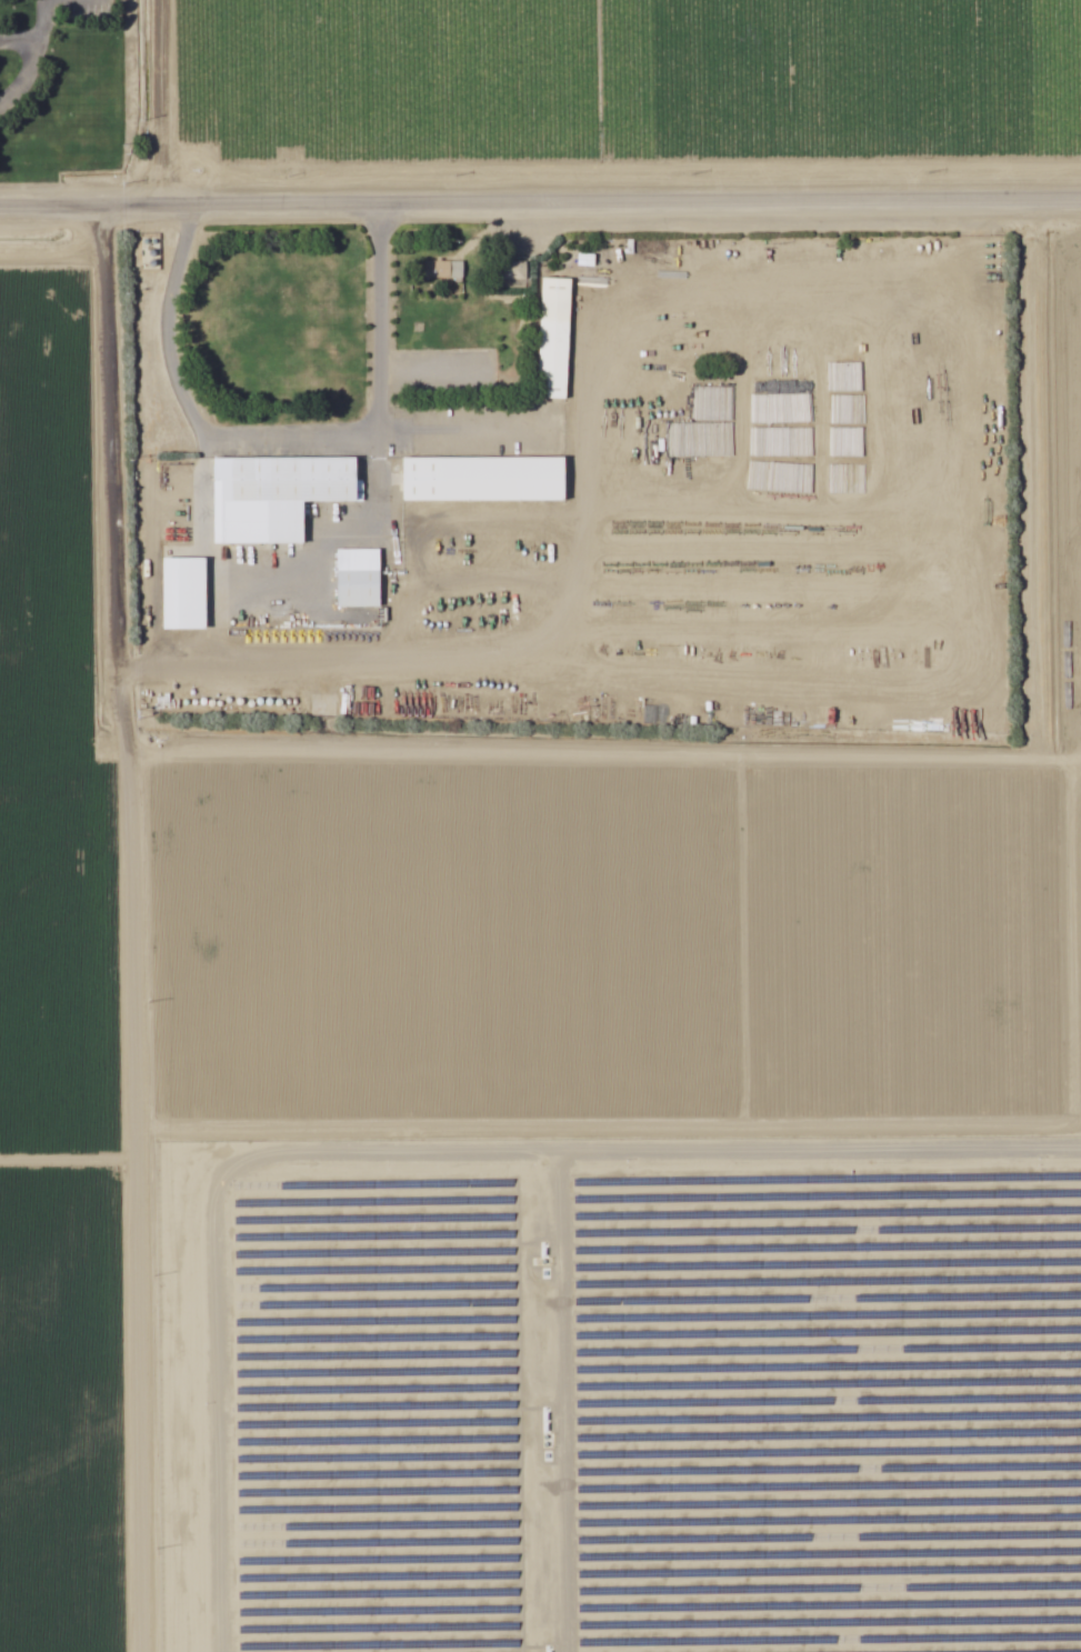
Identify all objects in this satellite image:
road: (42, 21)
road: (30, 58)
crop: (600, 90)
road: (540, 211)
building: (441, 271)
building: (510, 277)
building: (549, 339)
road: (289, 438)
building: (478, 478)
building: (322, 479)
building: (254, 501)
road: (382, 513)
building: (353, 579)
building: (179, 593)
road: (132, 825)
crop: (68, 957)
solar farm: (619, 1399)

